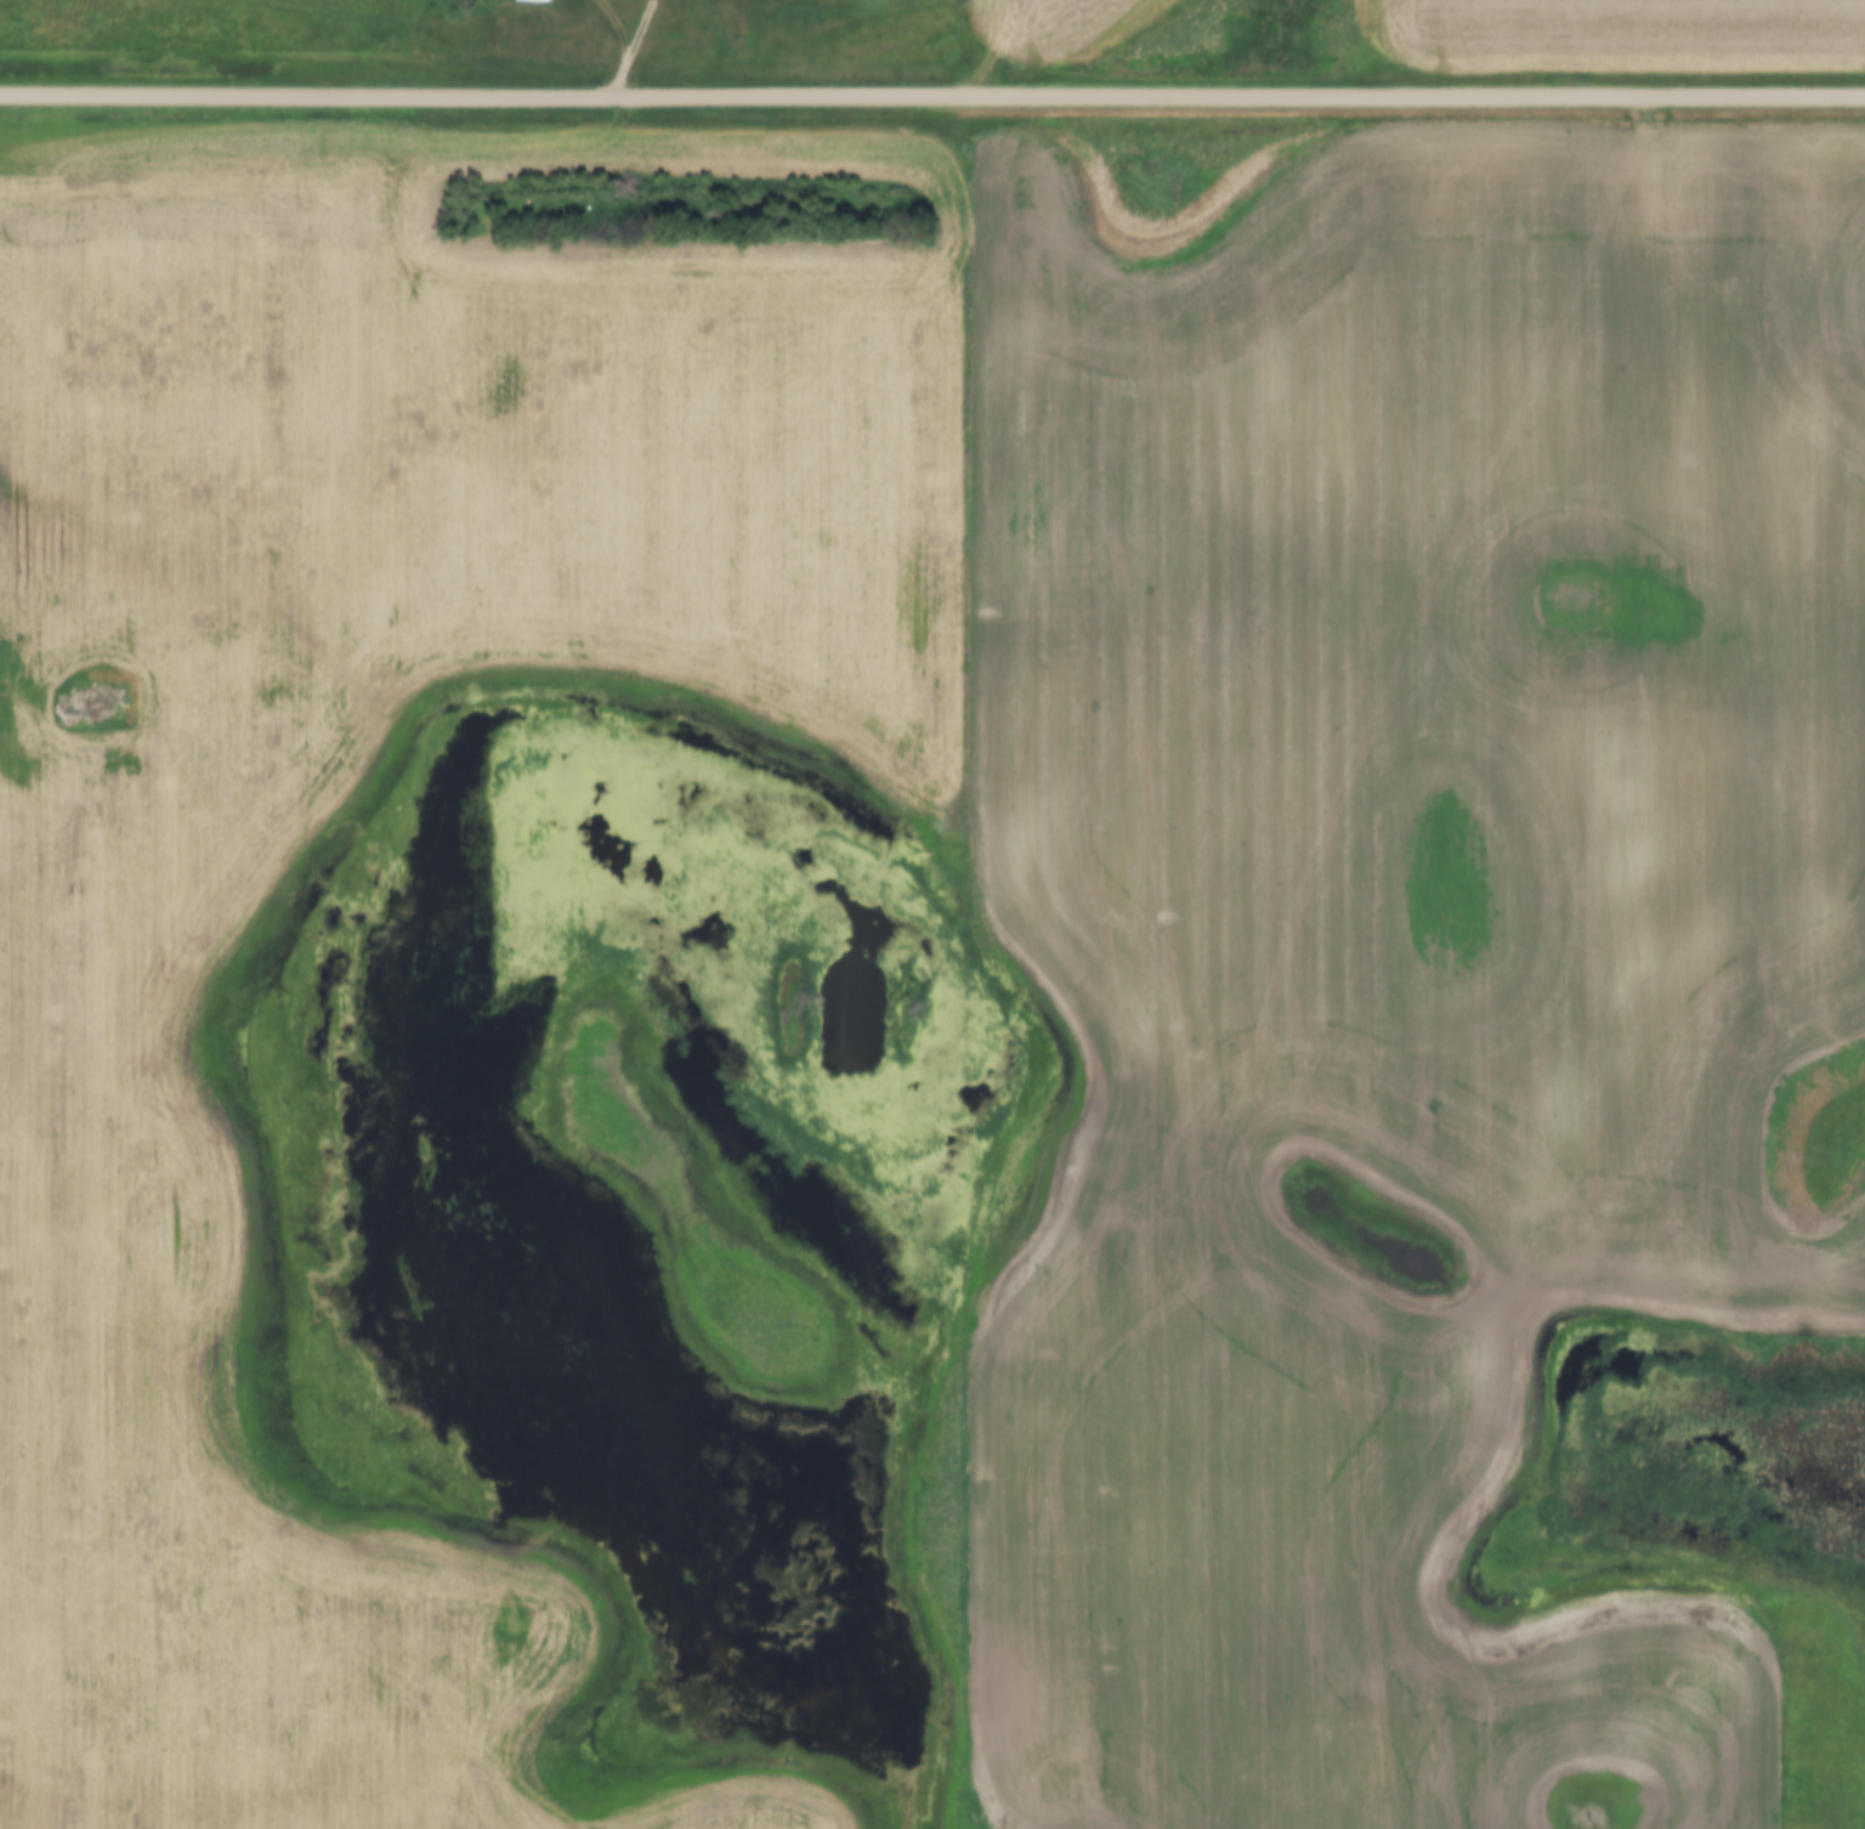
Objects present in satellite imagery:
building: (537, 1)
road: (633, 44)
road: (931, 92)

